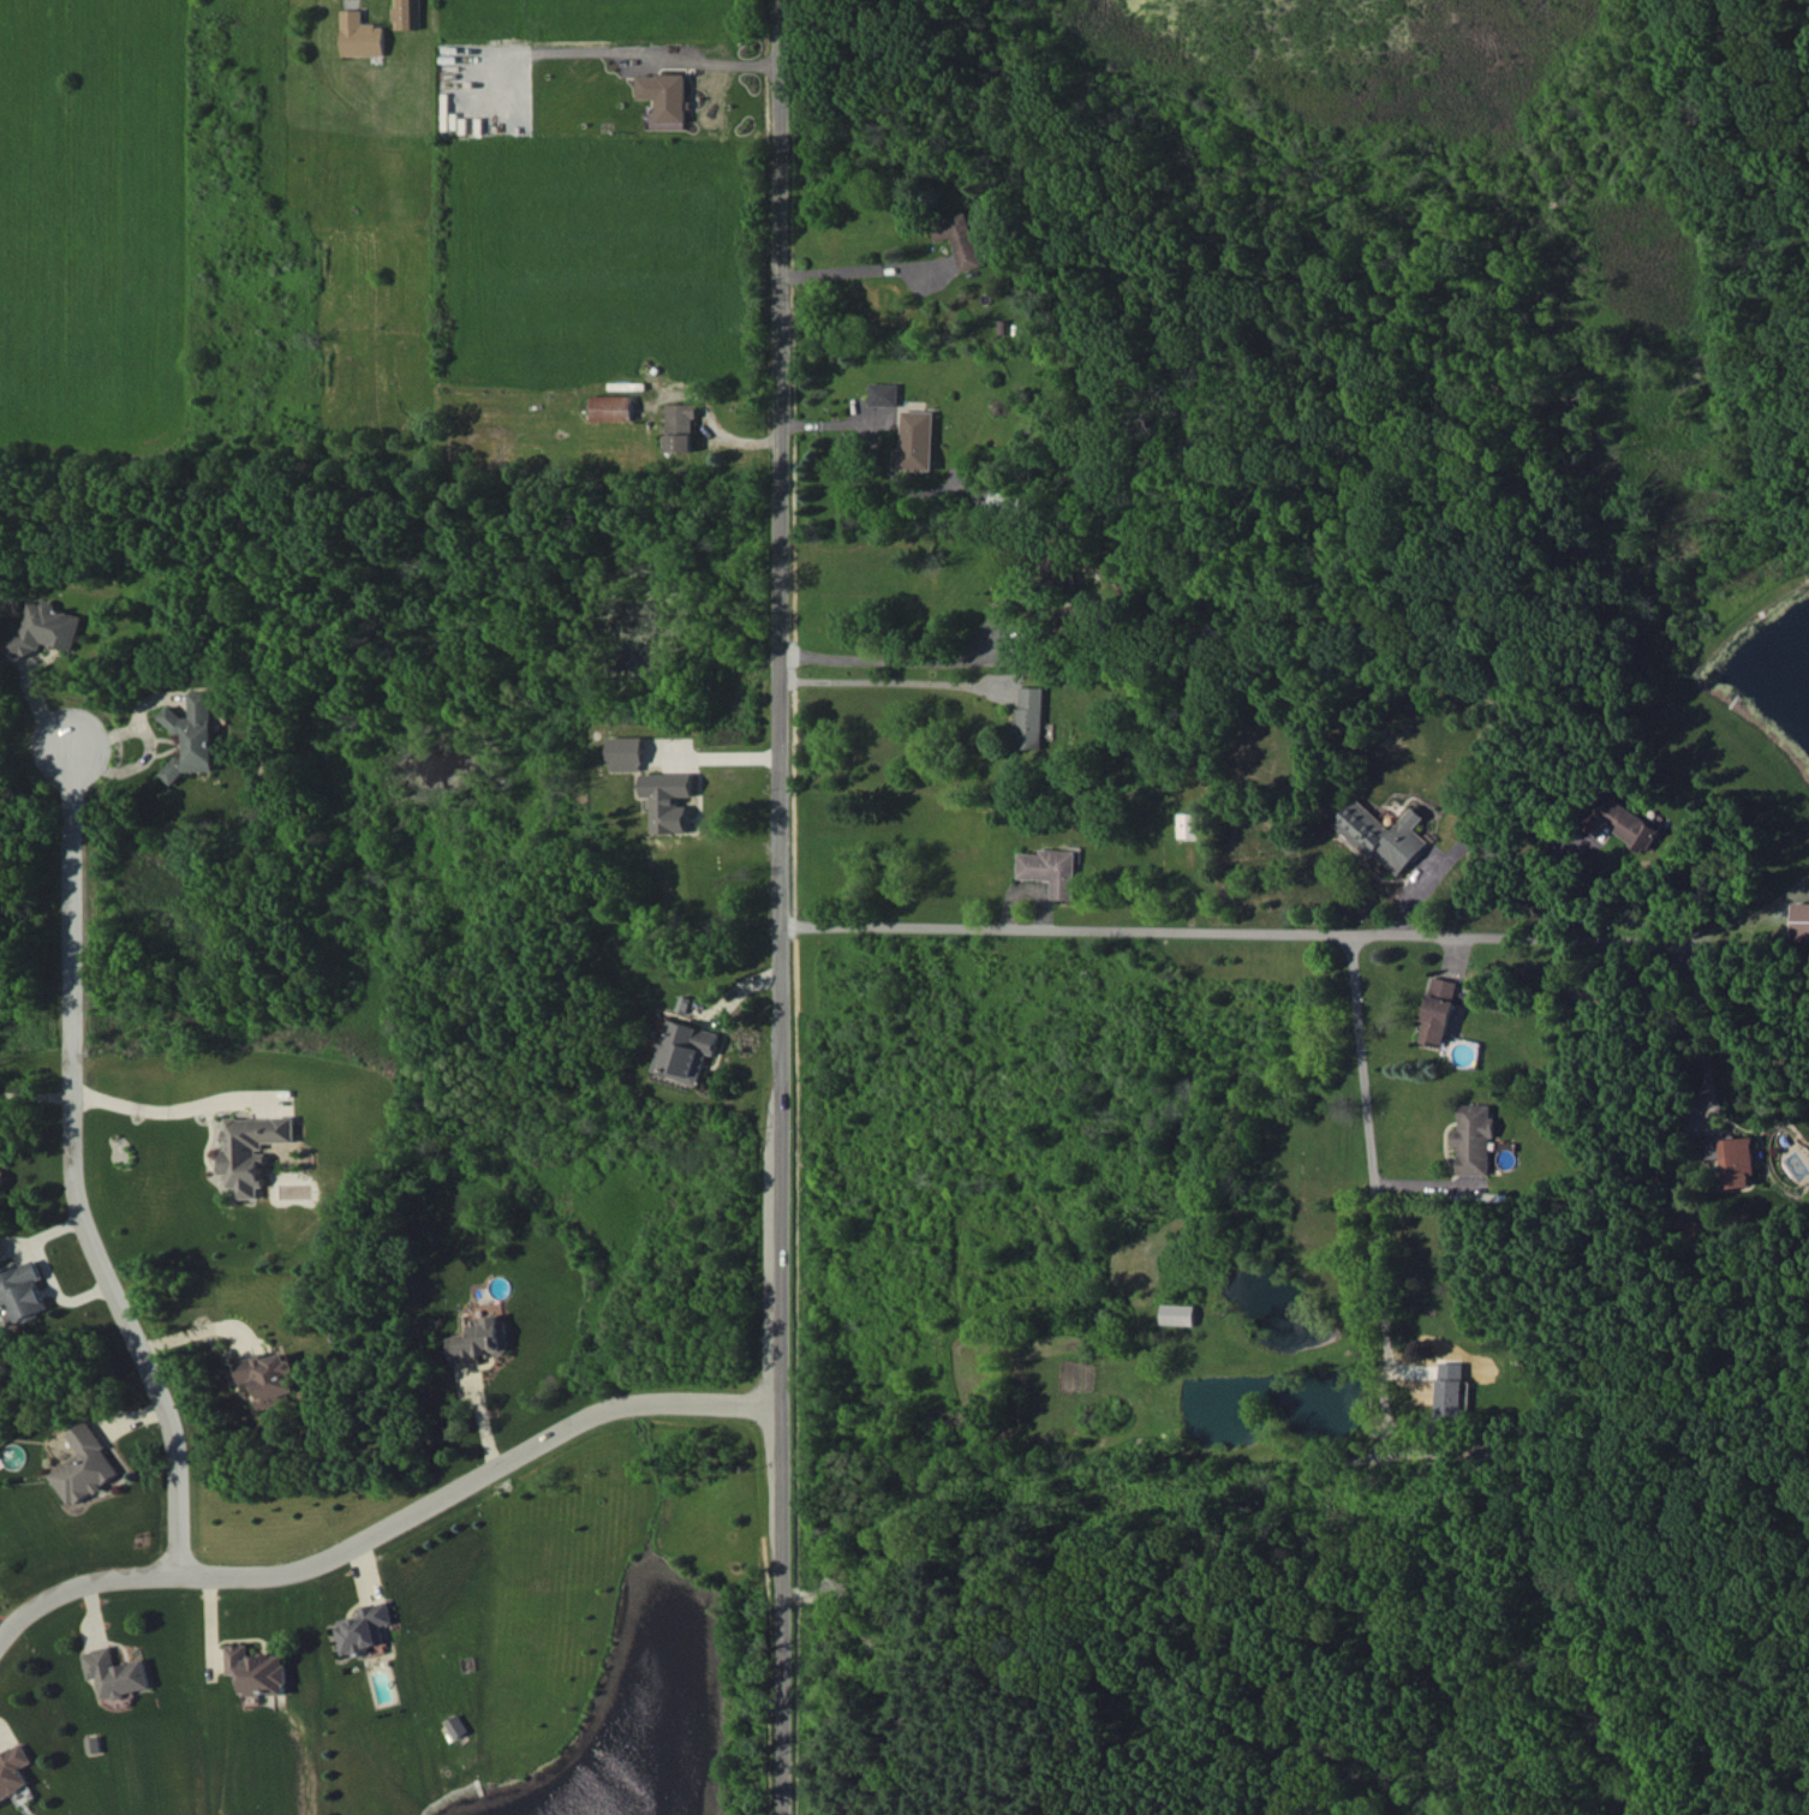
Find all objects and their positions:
building: (408, 13)
building: (362, 35)
road: (726, 59)
building: (665, 95)
building: (963, 238)
road: (862, 274)
building: (885, 394)
building: (614, 407)
building: (682, 426)
building: (918, 441)
building: (1061, 571)
building: (46, 631)
road: (903, 661)
road: (892, 682)
building: (1032, 717)
building: (193, 735)
building: (627, 753)
building: (669, 800)
building: (1631, 822)
building: (1192, 825)
building: (1385, 835)
road: (1511, 842)
building: (1053, 870)
road: (777, 907)
building: (1801, 920)
road: (1207, 930)
road: (1729, 931)
road: (1700, 1010)
building: (1439, 1011)
building: (685, 1050)
road: (1366, 1103)
road: (148, 1104)
building: (0, 1138)
building: (1474, 1139)
building: (255, 1150)
building: (1736, 1159)
road: (83, 1170)
building: (2, 1182)
building: (1686, 1224)
building: (2, 1252)
building: (23, 1292)
building: (1180, 1314)
building: (480, 1341)
road: (1386, 1341)
building: (271, 1379)
building: (1451, 1389)
building: (86, 1467)
road: (393, 1526)
building: (365, 1628)
building: (258, 1670)
building: (117, 1672)
building: (458, 1726)
building: (14, 1772)

